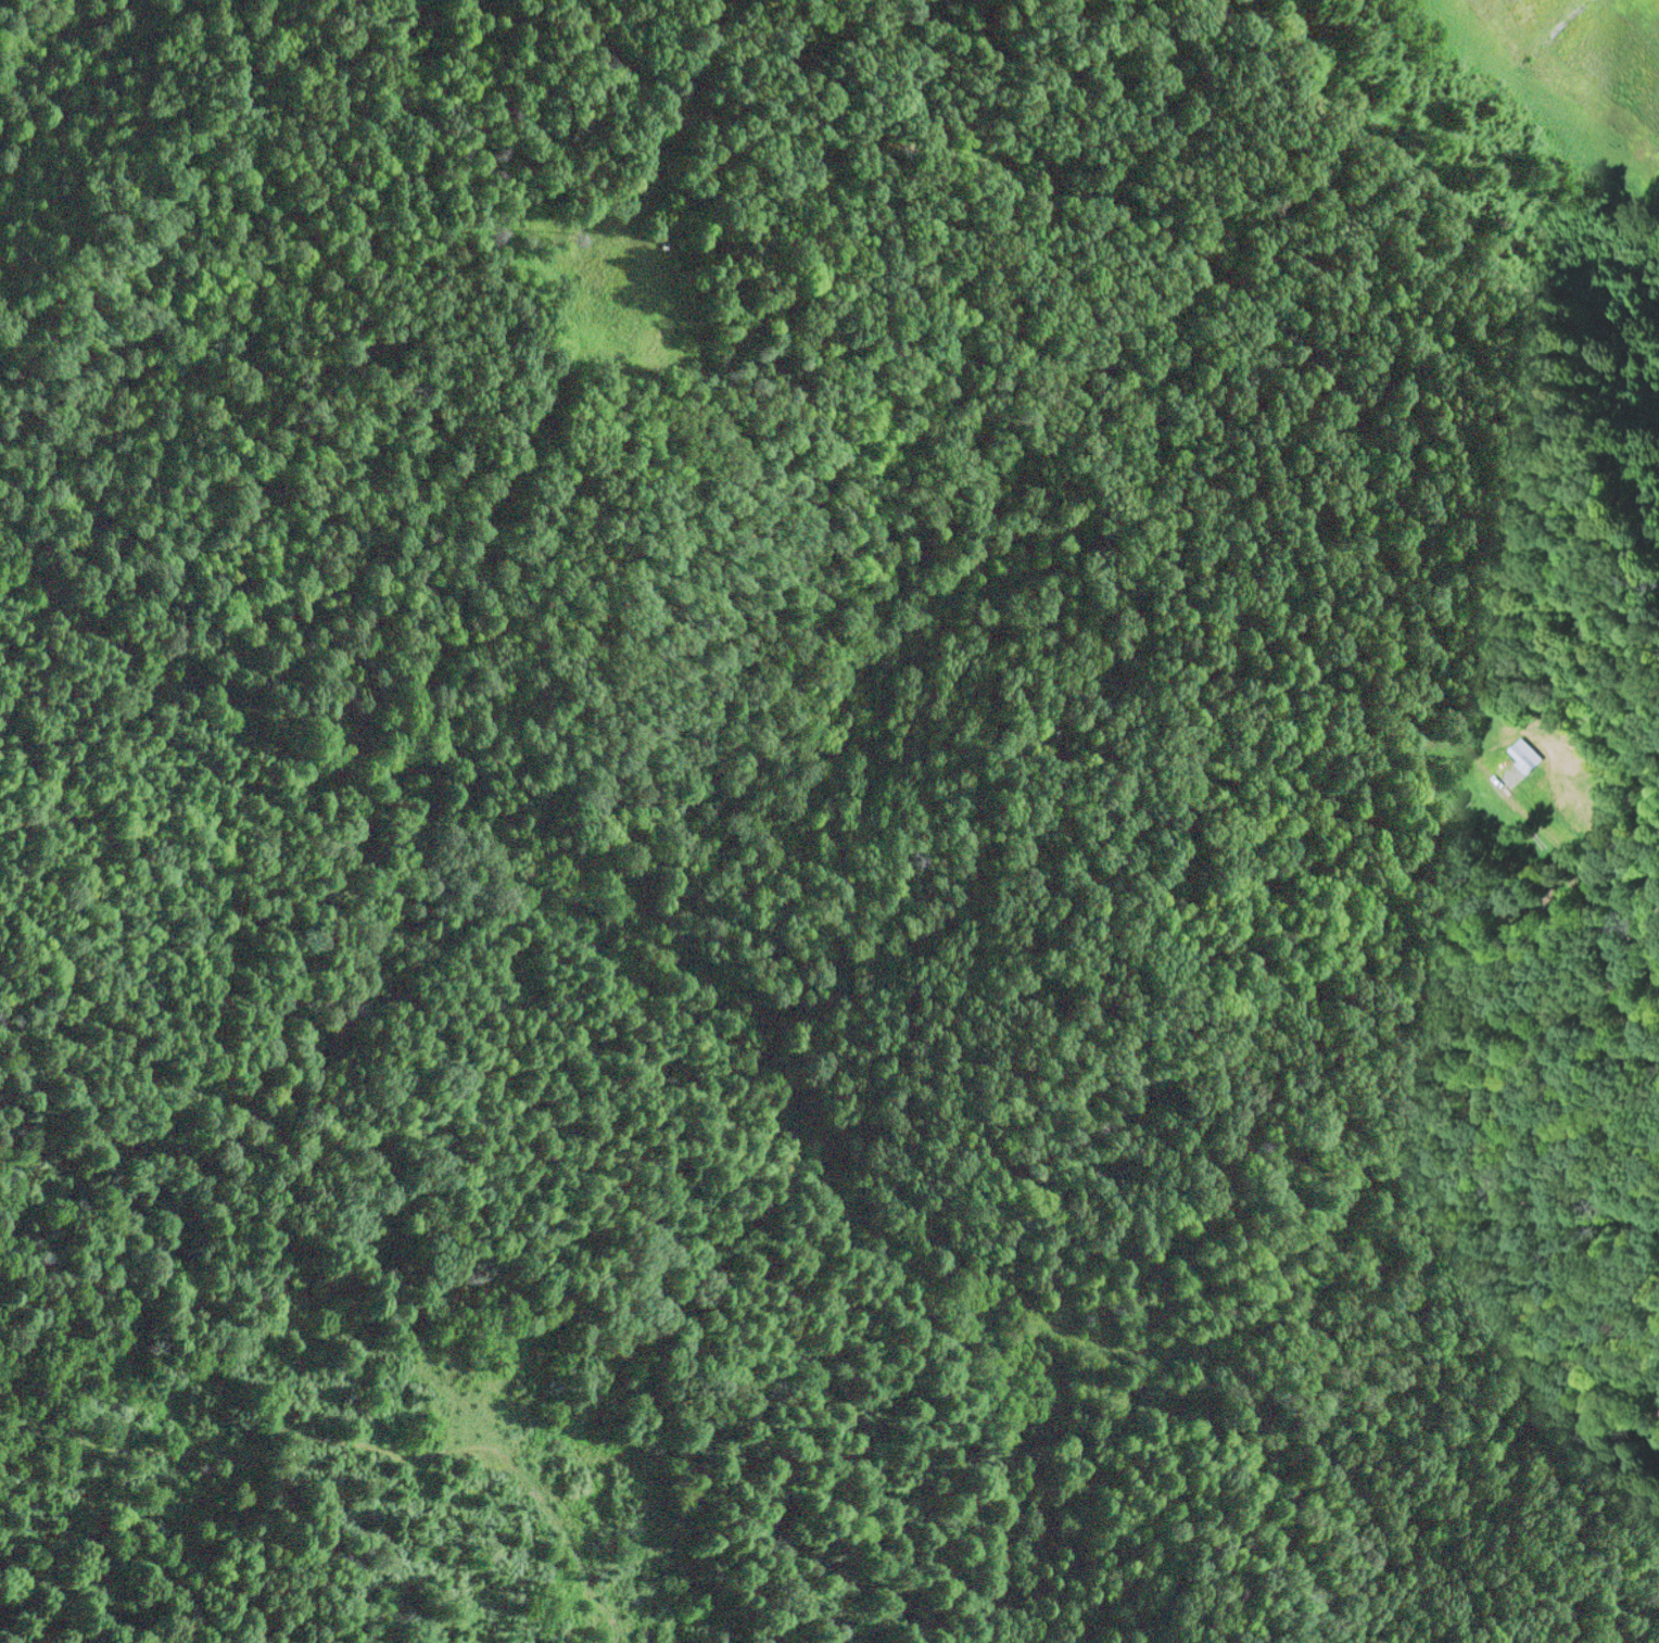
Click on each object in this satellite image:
road: (650, 152)
road: (1268, 326)
building: (1527, 750)
crop: (1510, 791)
road: (398, 1449)

